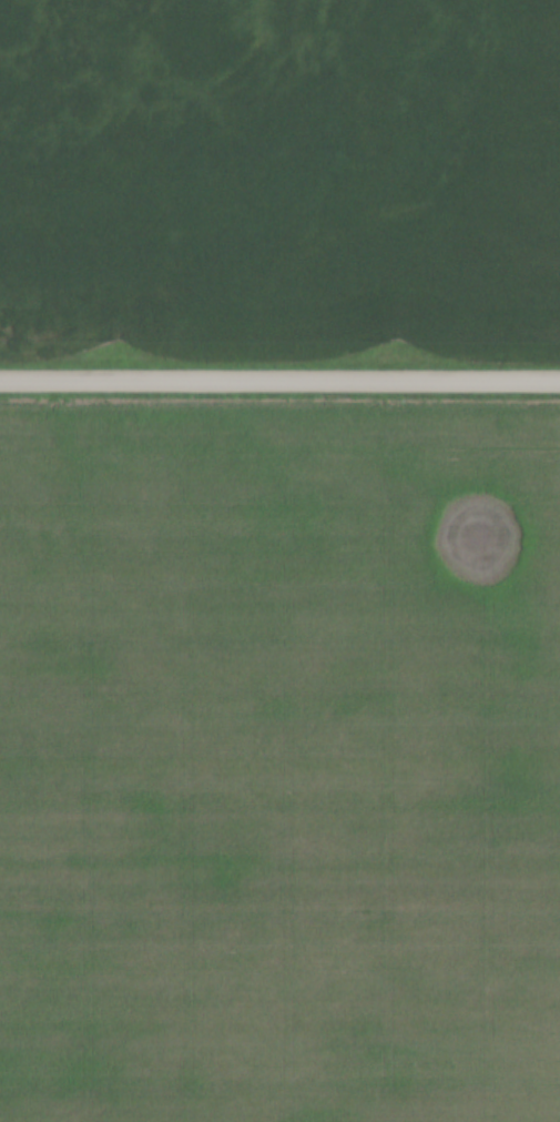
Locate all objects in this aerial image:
road: (279, 378)

